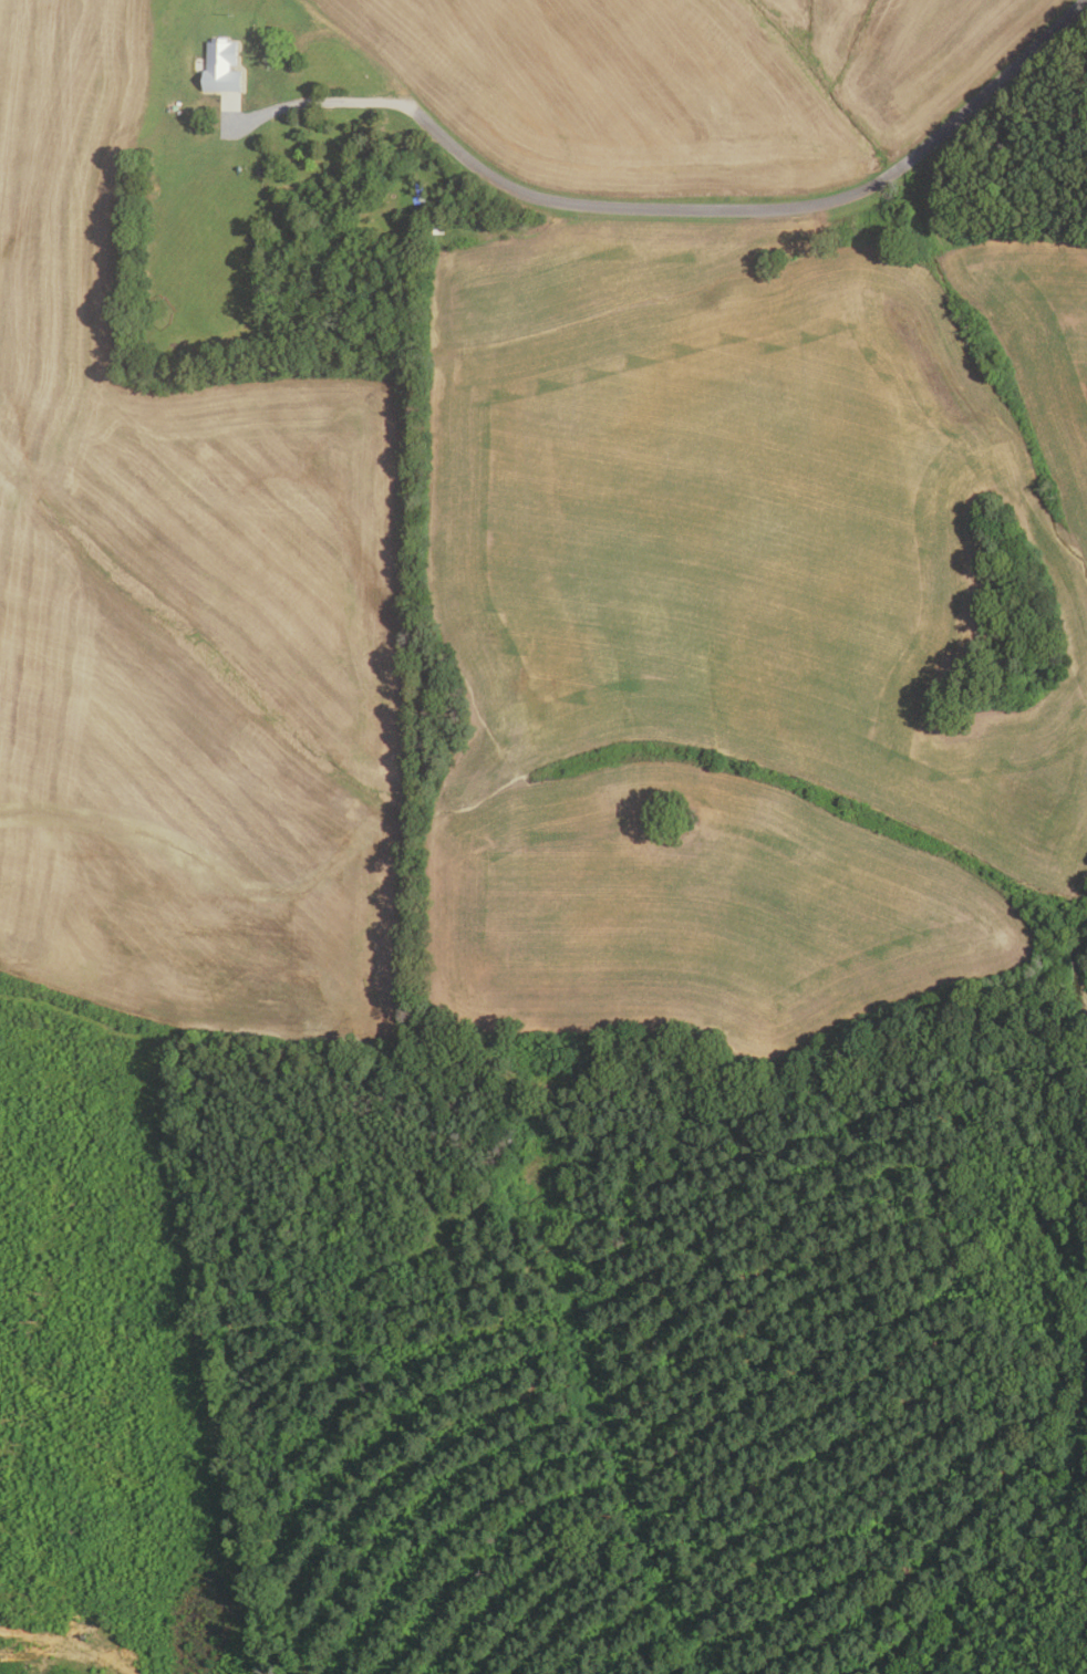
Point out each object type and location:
building: (224, 66)
crop: (691, 81)
road: (313, 102)
road: (764, 209)
building: (436, 223)
crop: (186, 623)

